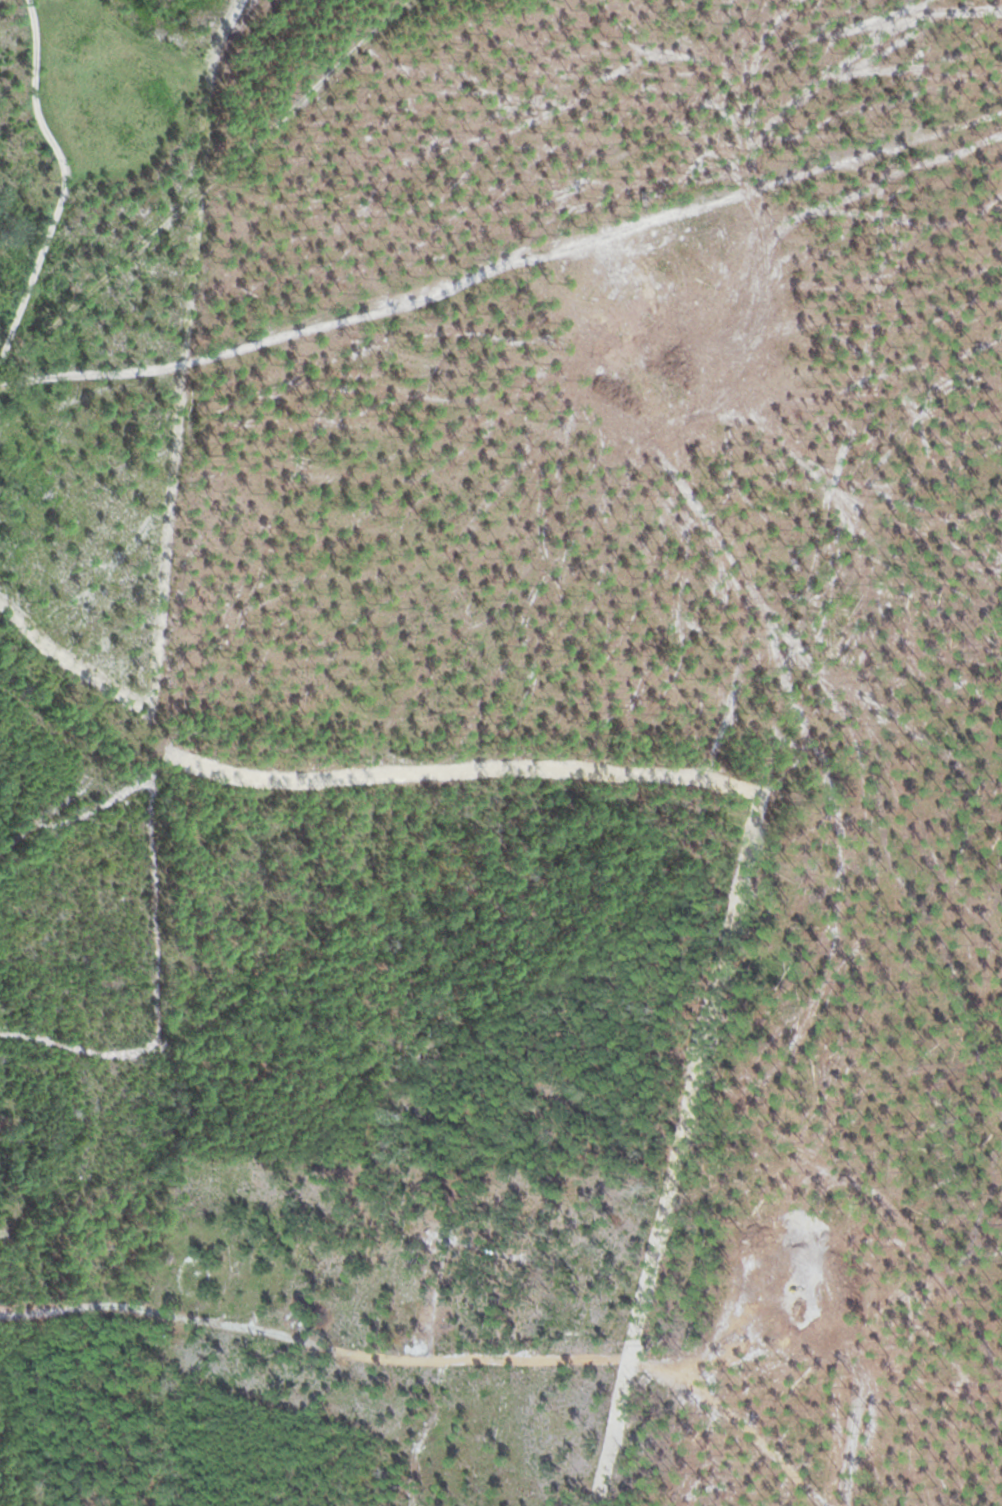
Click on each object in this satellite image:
building: (14, 1092)

